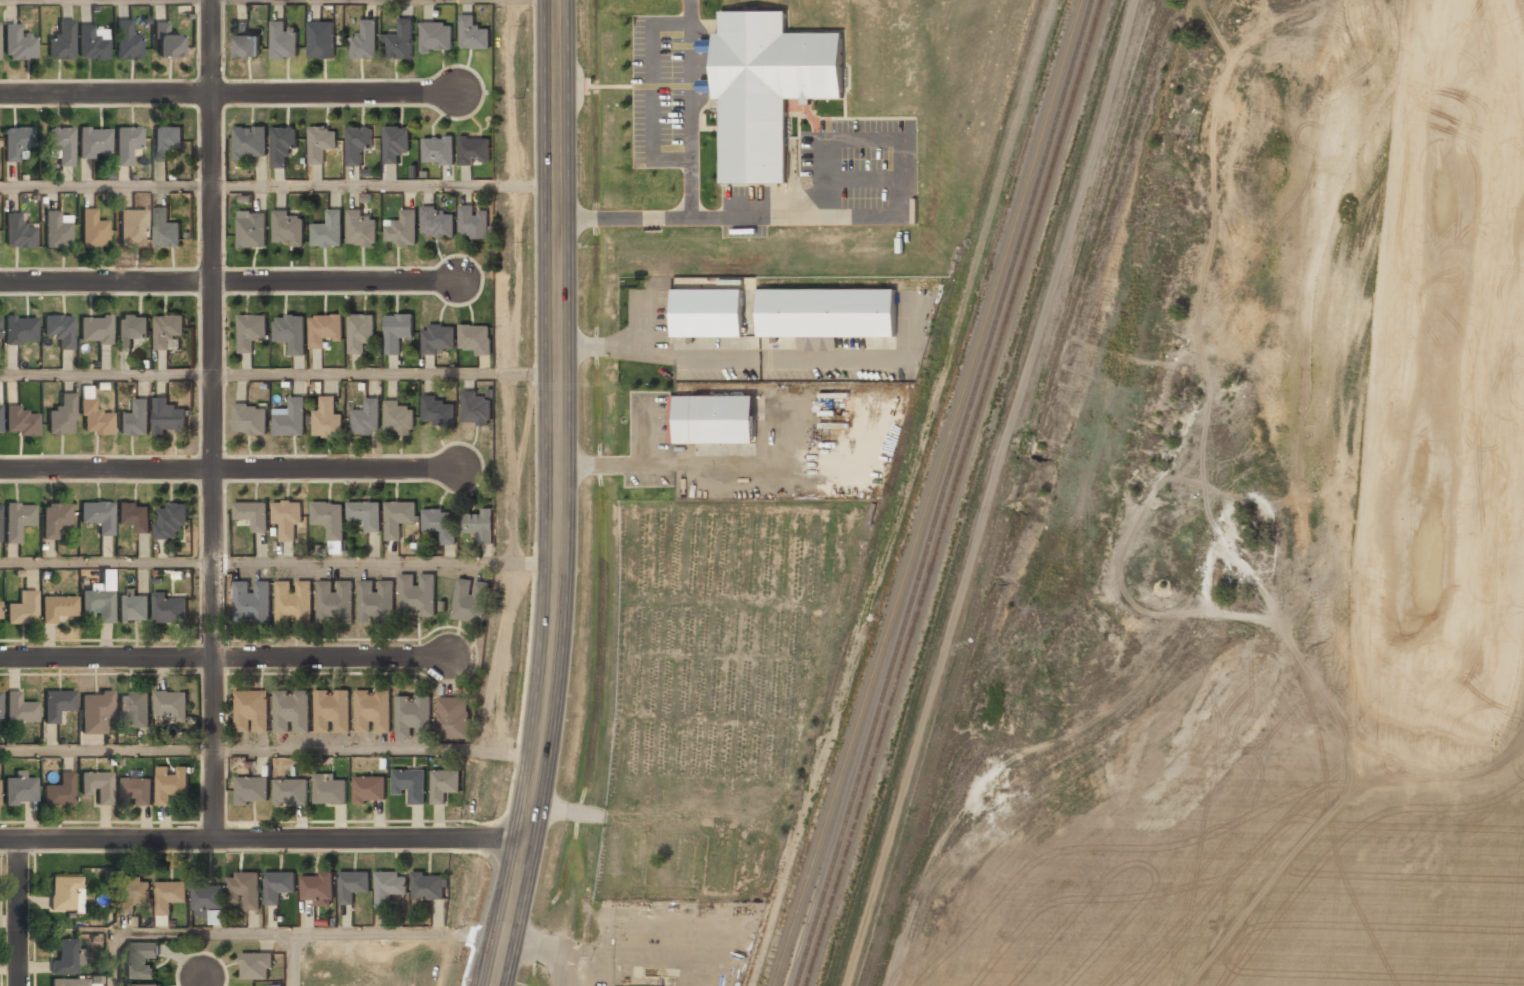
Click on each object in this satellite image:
building: (473, 33)
building: (436, 36)
building: (321, 40)
building: (126, 41)
building: (283, 41)
building: (365, 41)
building: (400, 41)
building: (61, 42)
building: (165, 42)
building: (246, 42)
building: (92, 43)
building: (18, 44)
building: (706, 45)
building: (706, 85)
building: (768, 88)
road: (228, 93)
building: (166, 142)
building: (250, 142)
building: (396, 142)
building: (16, 143)
building: (320, 143)
building: (357, 143)
building: (62, 144)
building: (95, 144)
building: (126, 145)
building: (283, 145)
building: (438, 150)
building: (474, 150)
road: (384, 184)
road: (106, 185)
building: (472, 222)
building: (436, 223)
building: (132, 228)
building: (287, 228)
building: (360, 228)
building: (251, 229)
building: (402, 229)
building: (93, 230)
building: (166, 230)
building: (328, 230)
building: (56, 231)
building: (18, 233)
road: (229, 281)
building: (708, 312)
building: (827, 313)
building: (167, 329)
building: (324, 329)
building: (0, 330)
building: (20, 330)
building: (60, 330)
building: (95, 330)
building: (131, 330)
building: (397, 331)
building: (252, 332)
building: (291, 332)
building: (360, 332)
building: (475, 338)
building: (430, 342)
road: (278, 373)
building: (476, 408)
building: (438, 411)
building: (61, 416)
building: (169, 417)
building: (367, 417)
building: (398, 417)
building: (94, 419)
building: (136, 419)
building: (251, 419)
building: (292, 419)
building: (327, 419)
building: (712, 419)
road: (212, 420)
building: (0, 421)
building: (21, 422)
road: (228, 469)
railway: (945, 492)
railway: (932, 493)
railway: (955, 493)
road: (557, 495)
building: (253, 514)
building: (366, 514)
building: (97, 516)
building: (134, 516)
building: (287, 518)
building: (398, 518)
building: (55, 519)
building: (329, 519)
building: (171, 520)
building: (17, 521)
building: (440, 524)
building: (478, 524)
building: (0, 529)
road: (278, 563)
building: (418, 594)
building: (471, 600)
building: (253, 601)
building: (295, 601)
building: (377, 601)
building: (335, 602)
building: (97, 605)
building: (57, 608)
building: (133, 608)
building: (22, 609)
building: (170, 609)
building: (0, 615)
road: (223, 657)
building: (57, 705)
building: (171, 705)
building: (0, 706)
building: (22, 708)
building: (134, 710)
building: (252, 711)
building: (333, 711)
building: (292, 712)
building: (372, 712)
building: (94, 713)
building: (414, 716)
building: (454, 718)
road: (269, 747)
building: (171, 784)
building: (410, 784)
building: (444, 784)
building: (97, 786)
building: (136, 789)
building: (329, 789)
building: (369, 789)
building: (252, 790)
building: (19, 791)
building: (60, 791)
building: (290, 792)
road: (262, 840)
building: (279, 885)
building: (353, 885)
building: (318, 887)
building: (389, 887)
building: (428, 887)
building: (245, 889)
building: (65, 894)
building: (133, 894)
building: (168, 896)
building: (208, 898)
road: (18, 913)
building: (217, 918)
road: (282, 933)
building: (65, 958)
road: (293, 959)
building: (141, 960)
building: (257, 967)
road: (486, 970)
building: (70, 983)
road: (202, 983)
building: (144, 985)

